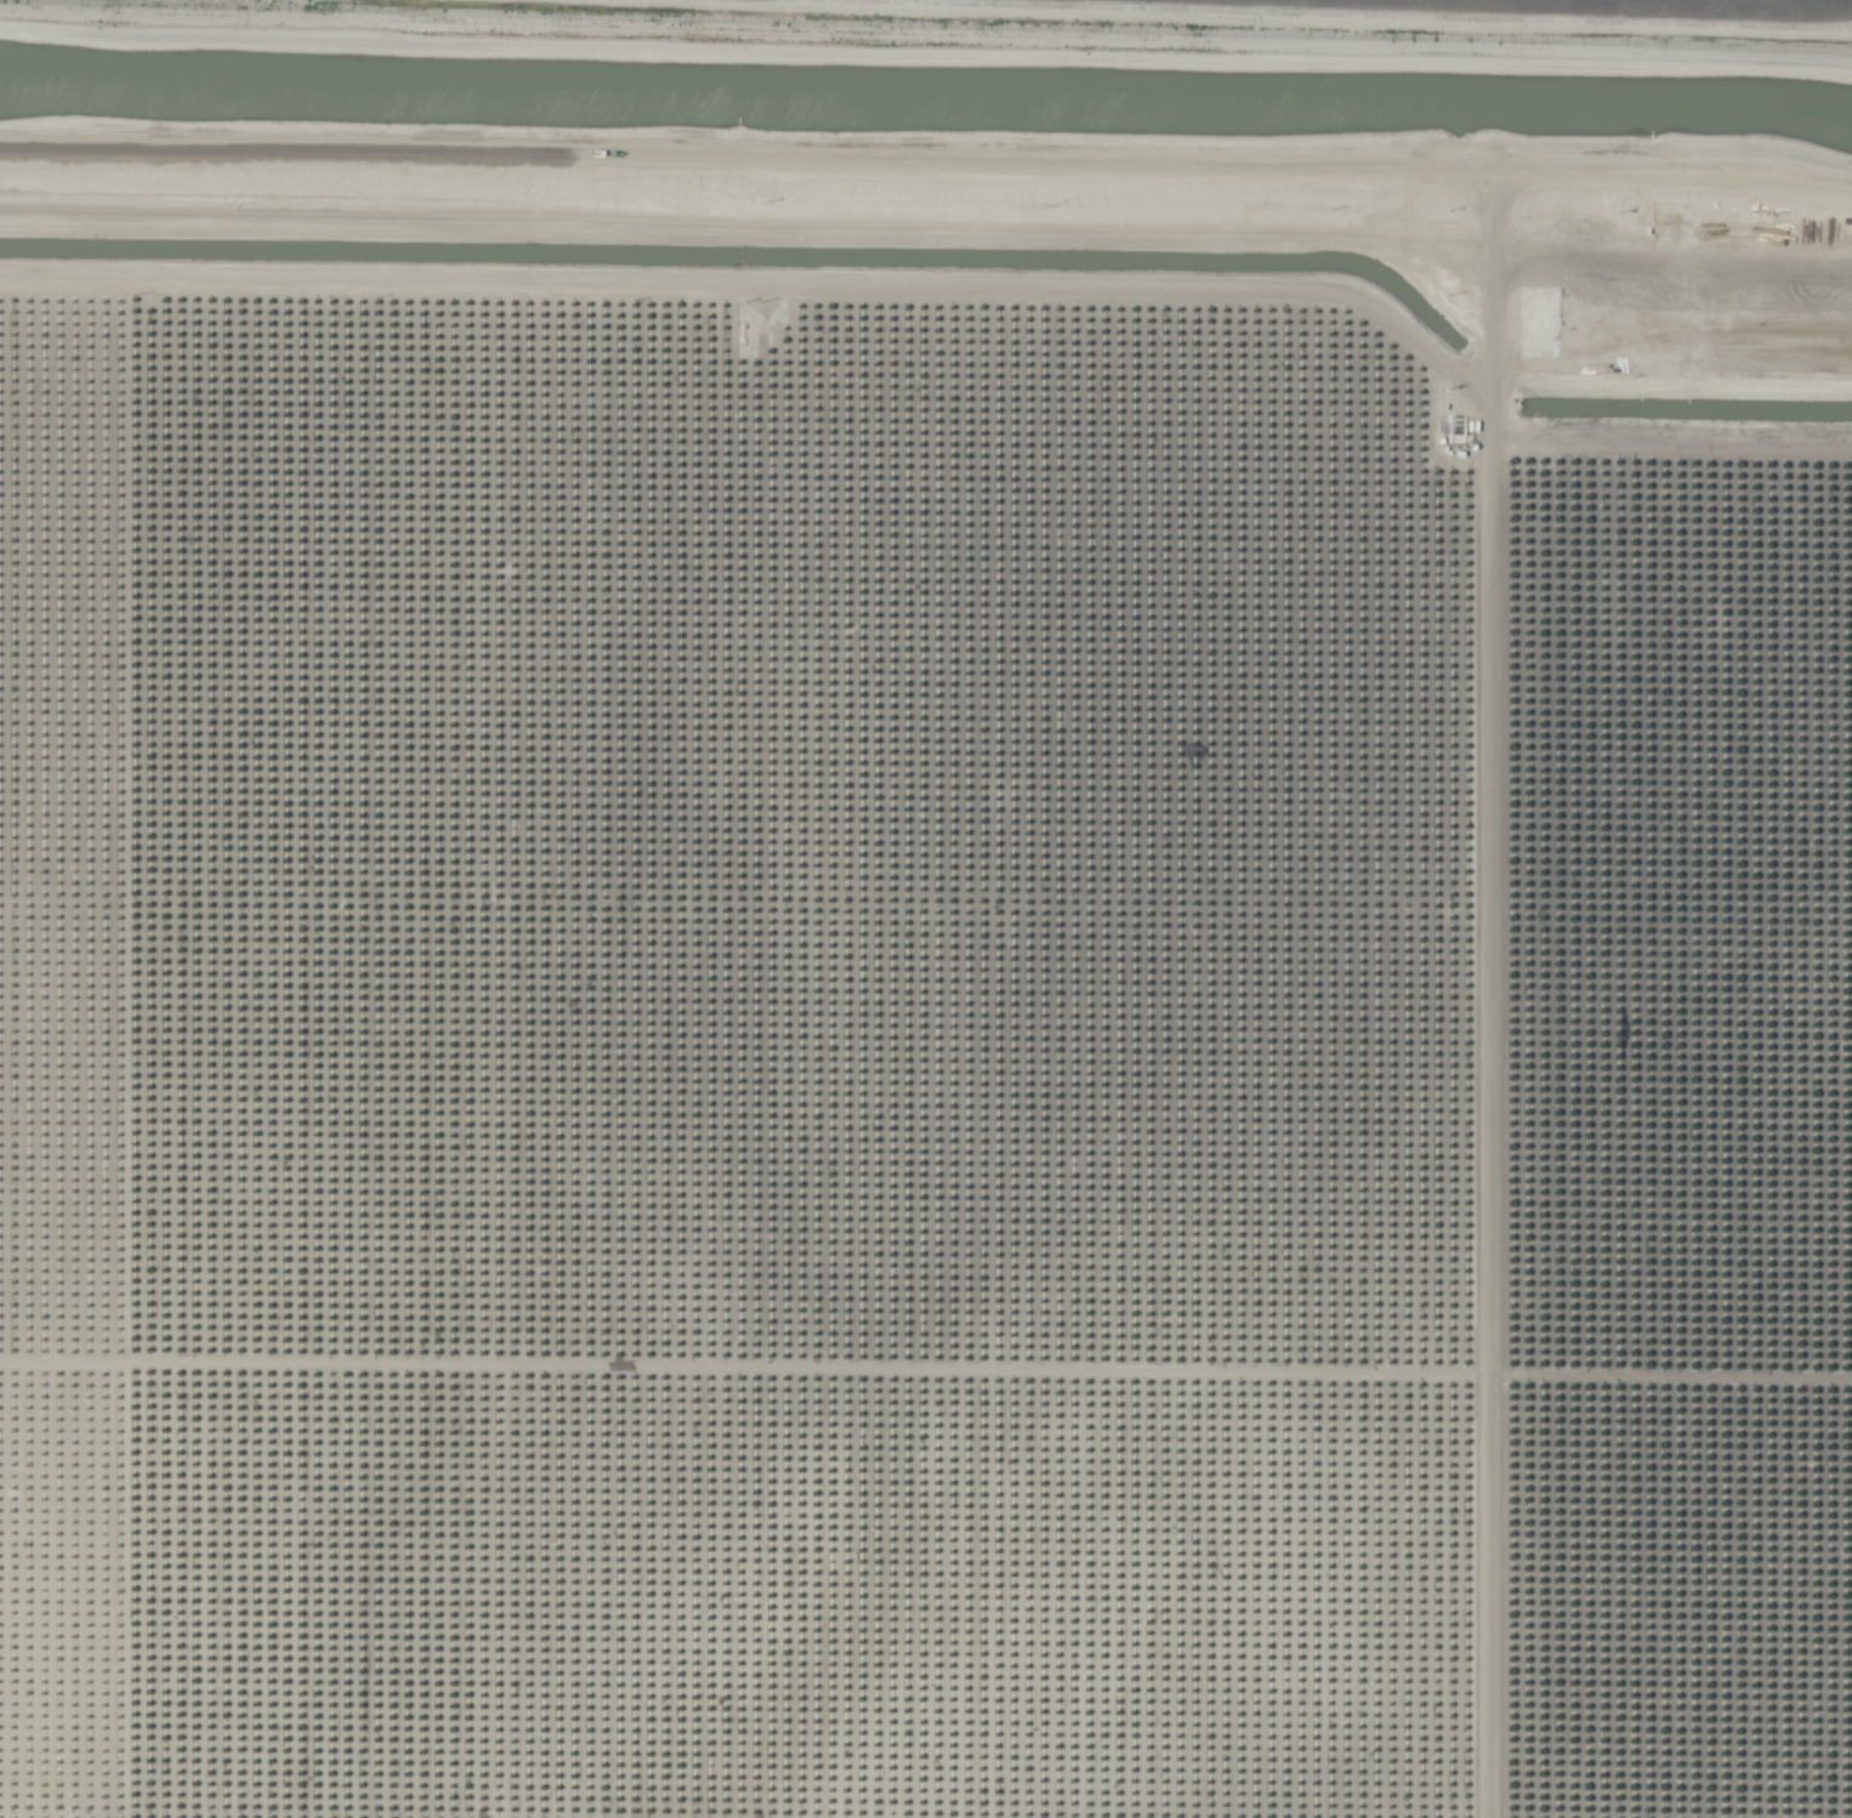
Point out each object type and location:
road: (1490, 245)
road: (767, 279)
crop: (926, 909)

